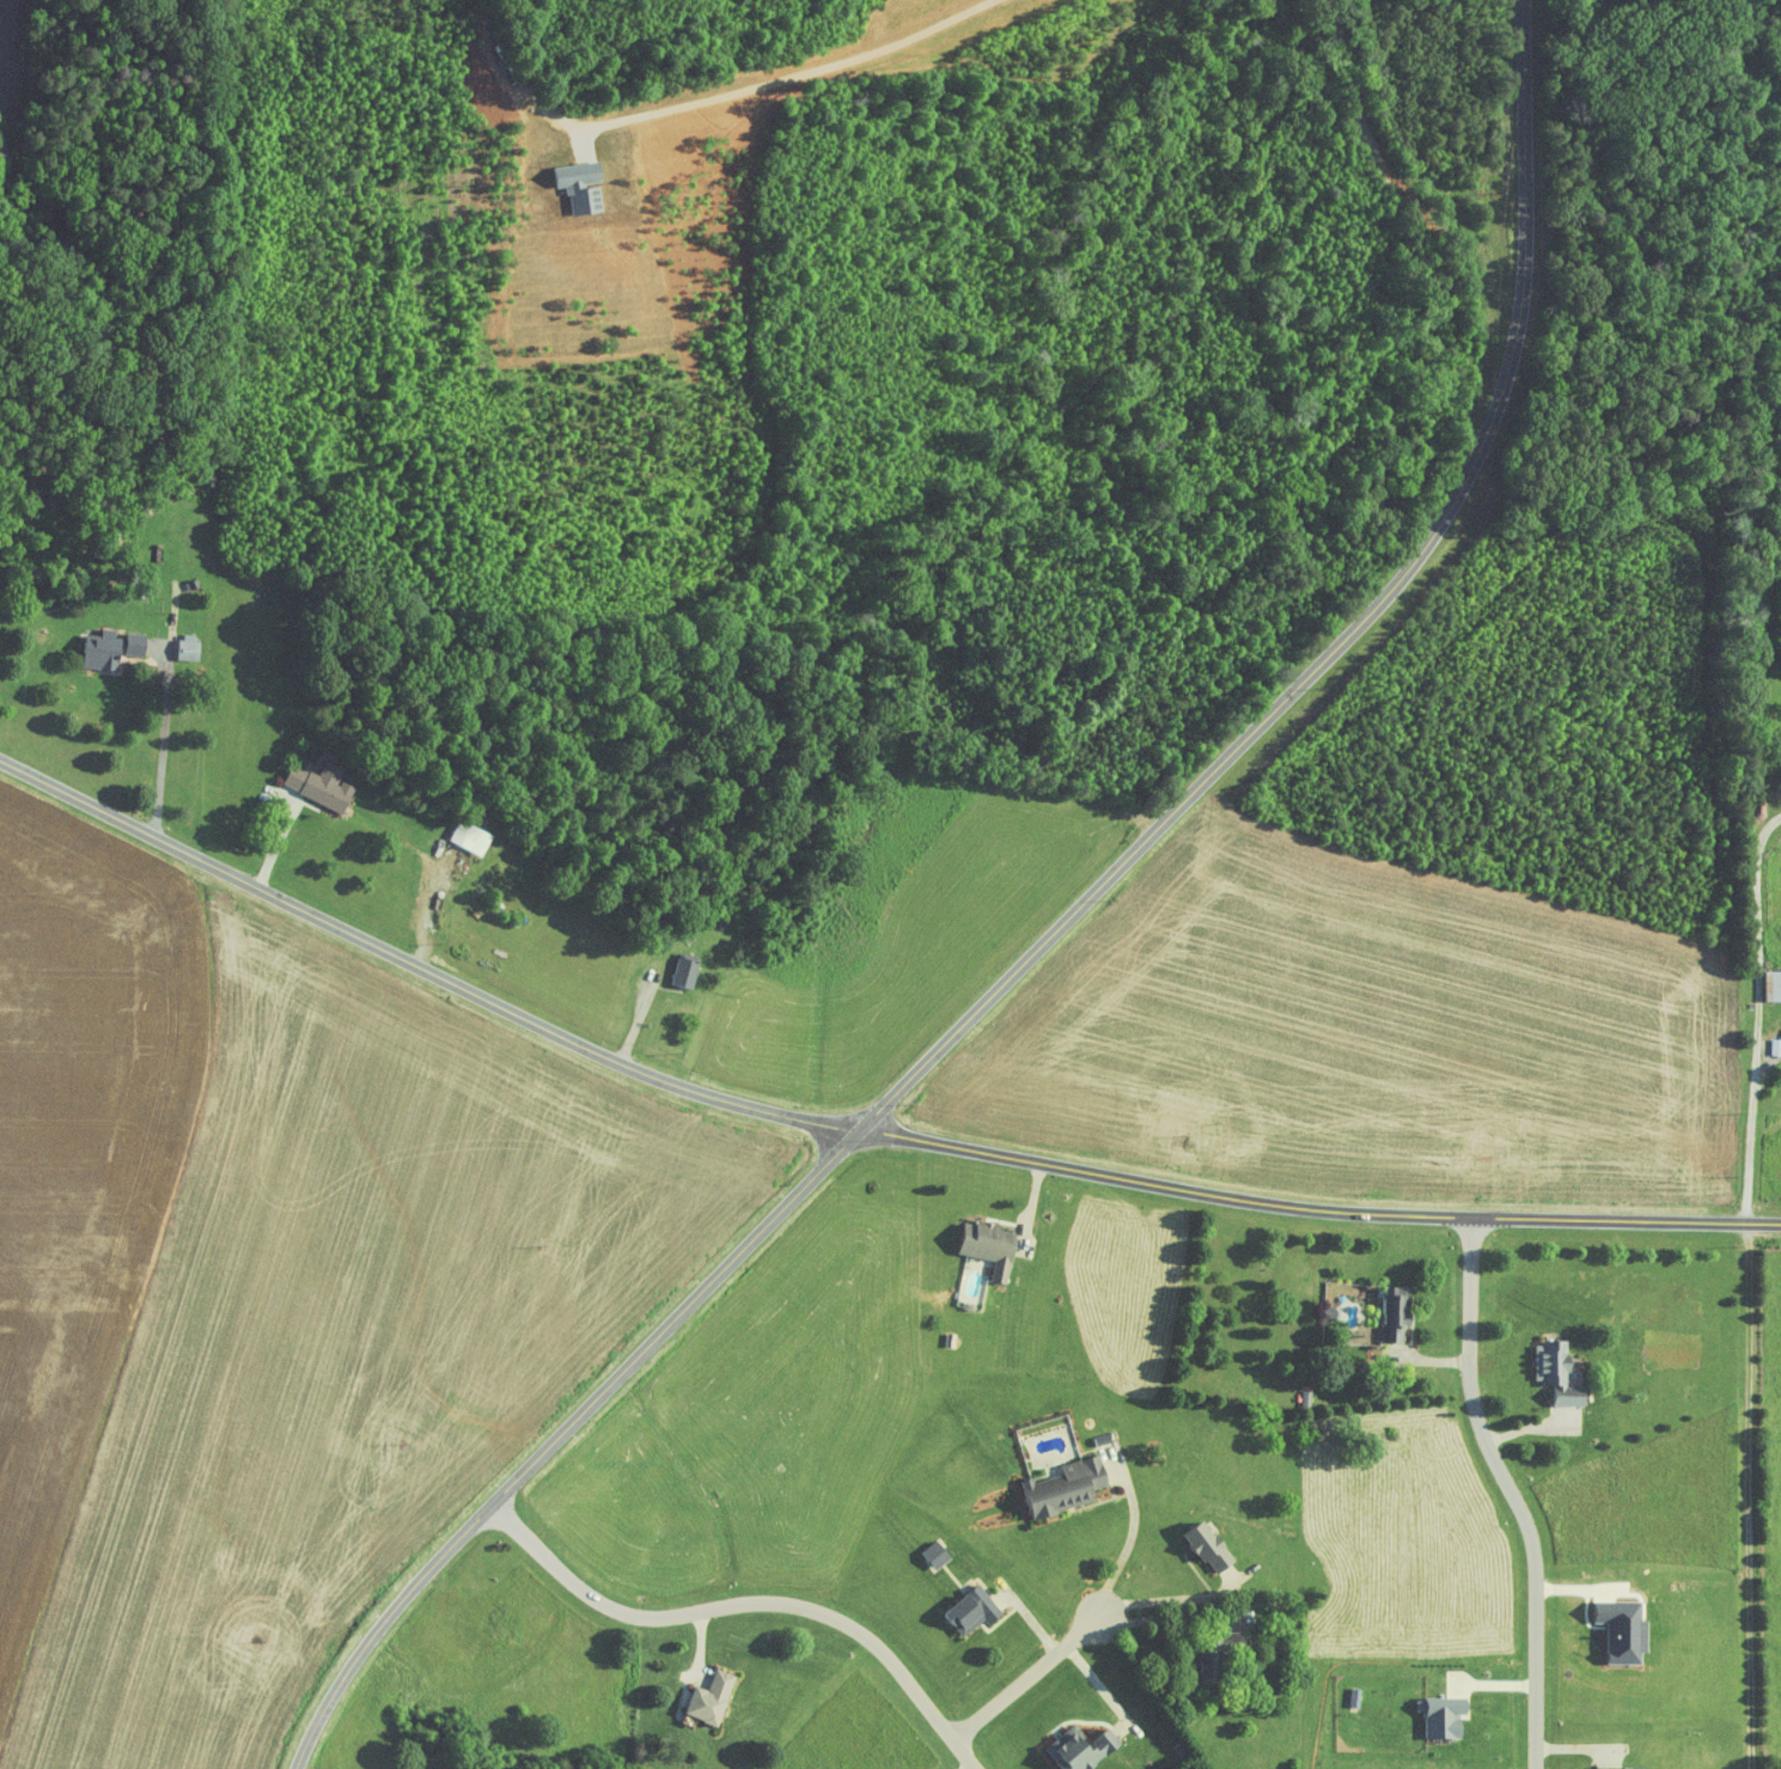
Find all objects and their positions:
building: (138, 642)
building: (190, 645)
building: (105, 649)
road: (164, 743)
building: (323, 783)
building: (472, 836)
road: (1043, 943)
building: (688, 971)
building: (1774, 984)
road: (1758, 1015)
building: (1776, 1045)
road: (854, 1131)
building: (994, 1245)
building: (1399, 1312)
building: (1560, 1372)
building: (1069, 1486)
road: (1509, 1492)
road: (1749, 1496)
road: (1134, 1532)
building: (1214, 1547)
building: (939, 1553)
road: (1176, 1597)
road: (745, 1604)
building: (976, 1610)
road: (1172, 1616)
building: (1221, 1658)
road: (1029, 1675)
building: (713, 1697)
building: (1447, 1716)
building: (1082, 1749)
building: (1626, 1768)

